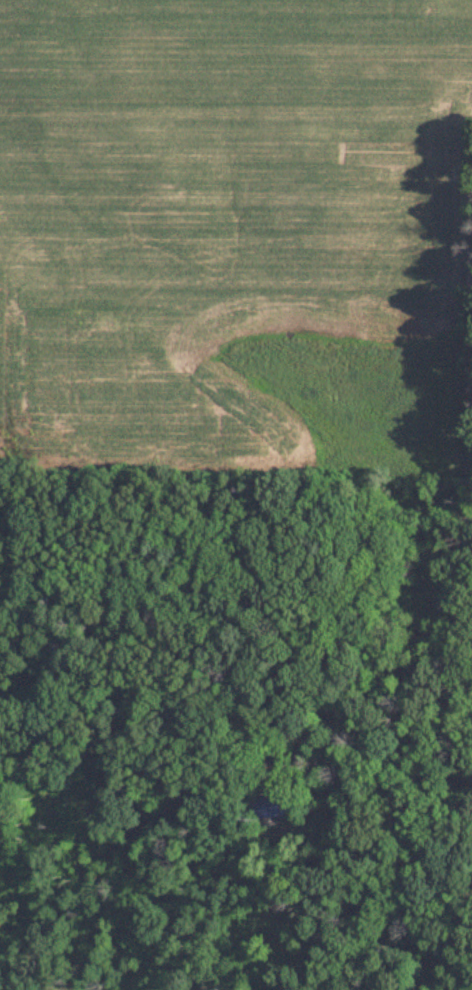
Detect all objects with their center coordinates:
road: (155, 678)
building: (275, 808)

